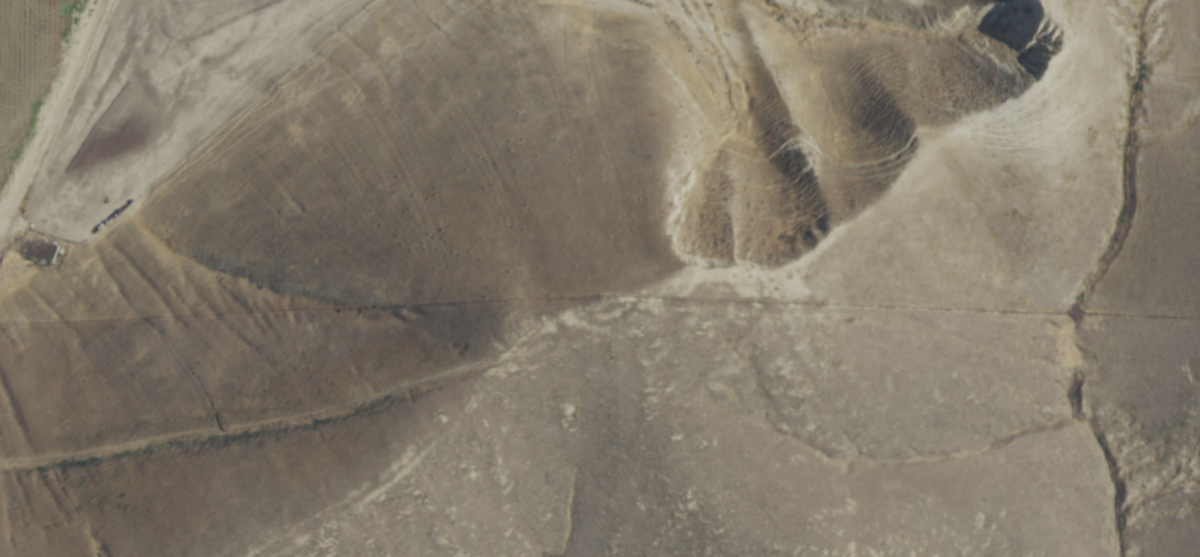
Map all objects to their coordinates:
road: (52, 106)
road: (307, 442)

